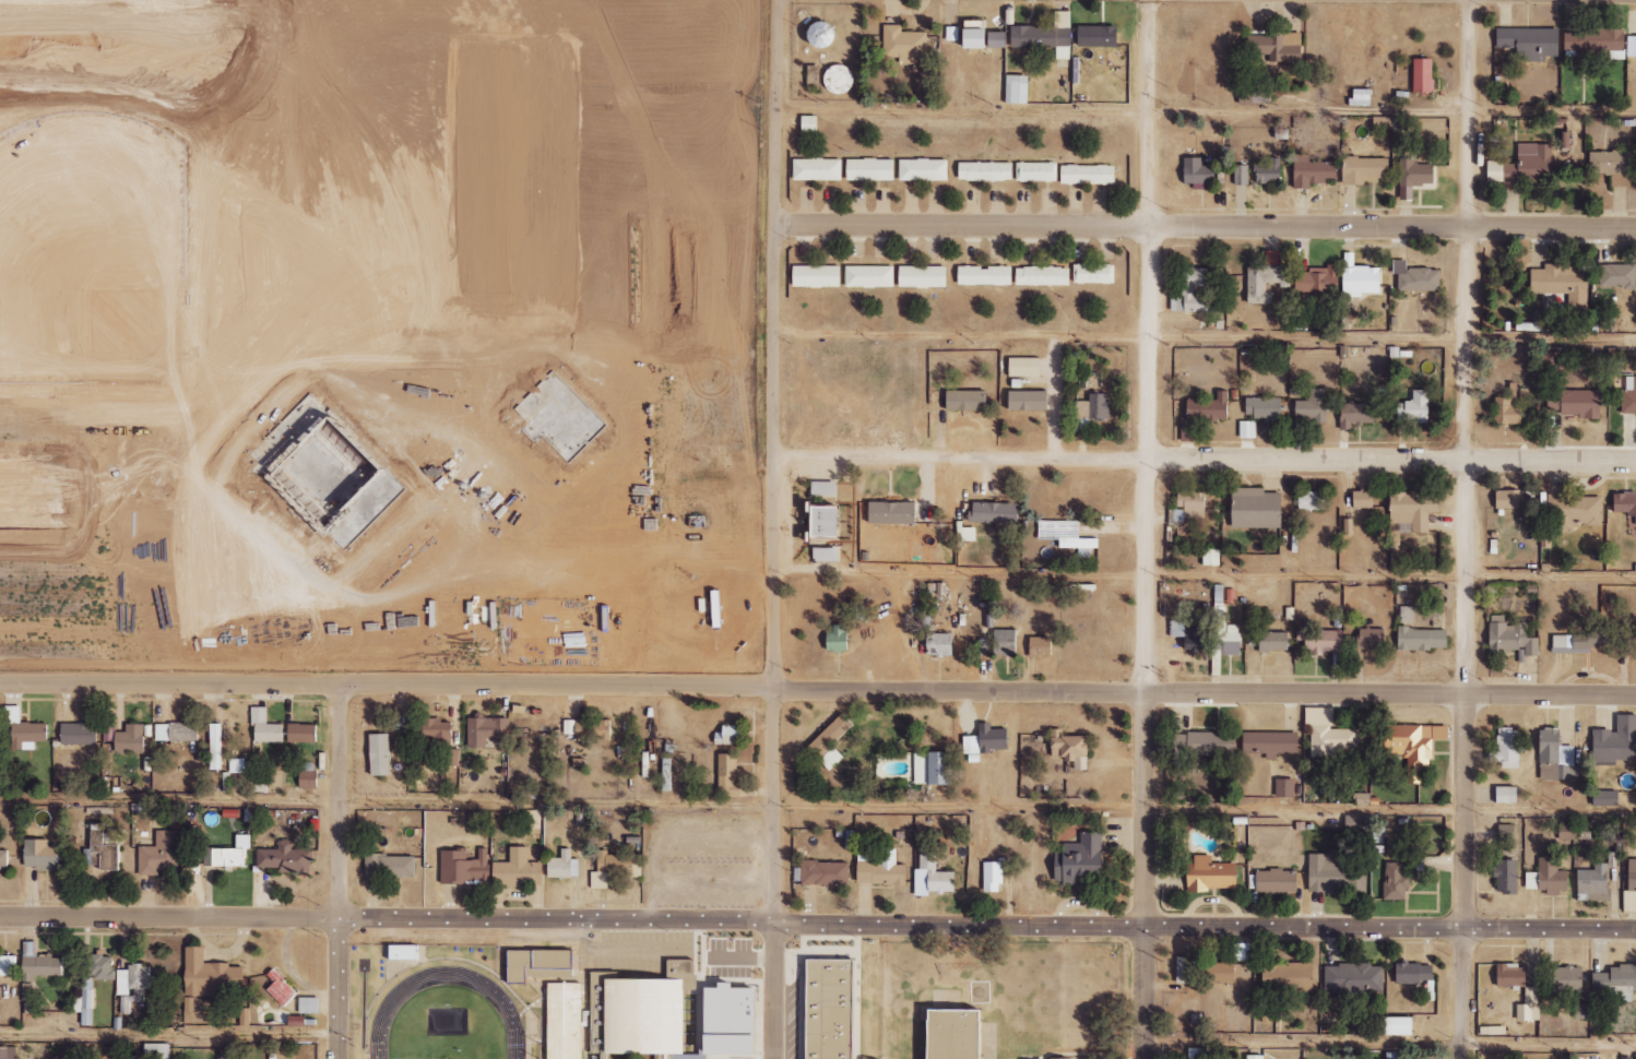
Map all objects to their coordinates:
building: (825, 35)
building: (1046, 35)
building: (984, 36)
building: (1099, 36)
building: (1530, 43)
building: (903, 44)
building: (1597, 44)
building: (1277, 46)
building: (1632, 46)
building: (1424, 75)
building: (840, 80)
building: (1018, 88)
building: (1253, 95)
building: (1362, 97)
road: (1207, 111)
building: (810, 123)
building: (1524, 166)
building: (1612, 166)
building: (818, 169)
building: (872, 169)
building: (924, 169)
building: (1364, 170)
building: (986, 171)
building: (1036, 171)
building: (1314, 171)
building: (1199, 172)
building: (1268, 172)
building: (1088, 175)
building: (1242, 175)
building: (1413, 177)
road: (1206, 224)
building: (1094, 273)
building: (985, 275)
building: (817, 276)
building: (869, 276)
building: (923, 276)
building: (1043, 276)
building: (1617, 276)
building: (1416, 277)
building: (1318, 279)
building: (1363, 281)
building: (1265, 283)
building: (1564, 285)
building: (1192, 290)
road: (1205, 344)
building: (1026, 367)
building: (1627, 398)
building: (964, 401)
building: (1028, 401)
building: (1576, 403)
building: (1511, 405)
building: (1093, 407)
building: (1313, 407)
building: (1264, 408)
building: (1415, 408)
building: (1204, 414)
building: (1358, 414)
building: (1247, 429)
road: (1205, 459)
building: (823, 488)
building: (1363, 499)
building: (1508, 499)
building: (1309, 501)
building: (1625, 504)
building: (1189, 505)
building: (1257, 508)
building: (1414, 509)
building: (1575, 510)
building: (995, 512)
building: (893, 513)
building: (827, 522)
road: (1465, 528)
road: (768, 529)
road: (1147, 529)
building: (1067, 536)
building: (827, 554)
building: (1211, 557)
road: (1200, 578)
building: (1407, 615)
building: (1226, 632)
building: (1192, 633)
building: (838, 638)
building: (1509, 638)
building: (1371, 639)
building: (1422, 639)
building: (1320, 640)
building: (1004, 642)
building: (1273, 642)
building: (1588, 642)
building: (940, 644)
building: (1041, 646)
road: (817, 688)
building: (265, 726)
building: (589, 728)
building: (438, 730)
building: (487, 730)
building: (25, 731)
building: (176, 731)
building: (303, 733)
building: (79, 734)
building: (1329, 734)
building: (728, 736)
building: (130, 739)
building: (987, 740)
building: (831, 741)
building: (1616, 741)
building: (1270, 743)
building: (1207, 745)
building: (1070, 748)
building: (1410, 748)
building: (1507, 749)
building: (215, 752)
building: (380, 753)
building: (452, 757)
building: (1556, 757)
building: (934, 769)
building: (728, 776)
building: (308, 778)
building: (1285, 788)
building: (1507, 795)
building: (1607, 799)
road: (818, 805)
building: (533, 820)
building: (473, 821)
building: (1506, 832)
building: (1566, 832)
building: (102, 848)
building: (40, 854)
building: (158, 854)
building: (220, 855)
building: (3, 858)
building: (285, 858)
building: (1082, 861)
building: (624, 866)
building: (880, 867)
building: (398, 868)
building: (570, 868)
parking lot: (713, 869)
building: (473, 870)
road: (340, 871)
building: (526, 873)
building: (826, 873)
building: (937, 874)
building: (1212, 874)
building: (1337, 874)
building: (1506, 876)
building: (1632, 876)
building: (993, 877)
building: (1552, 877)
building: (1278, 881)
building: (1395, 881)
building: (1594, 883)
road: (818, 921)
building: (413, 954)
building: (39, 963)
building: (545, 964)
building: (8, 965)
building: (1188, 971)
building: (1223, 973)
building: (1415, 973)
building: (1513, 975)
building: (211, 976)
building: (1289, 976)
building: (1354, 979)
building: (1569, 979)
track: (455, 980)
building: (1616, 983)
building: (92, 985)
building: (132, 985)
building: (281, 988)
stadium: (442, 1000)
building: (601, 1001)
building: (189, 1003)
building: (309, 1004)
building: (1529, 1006)
building: (831, 1009)
building: (1581, 1011)
building: (650, 1013)
building: (245, 1015)
building: (734, 1020)
building: (573, 1022)
building: (1401, 1026)
building: (964, 1033)
road: (169, 1037)
road: (1390, 1043)
building: (156, 1050)
building: (8, 1052)
building: (1395, 1056)
building: (1197, 1057)
building: (1256, 1057)
building: (1060, 1058)
building: (1428, 1058)
building: (1625, 1058)

